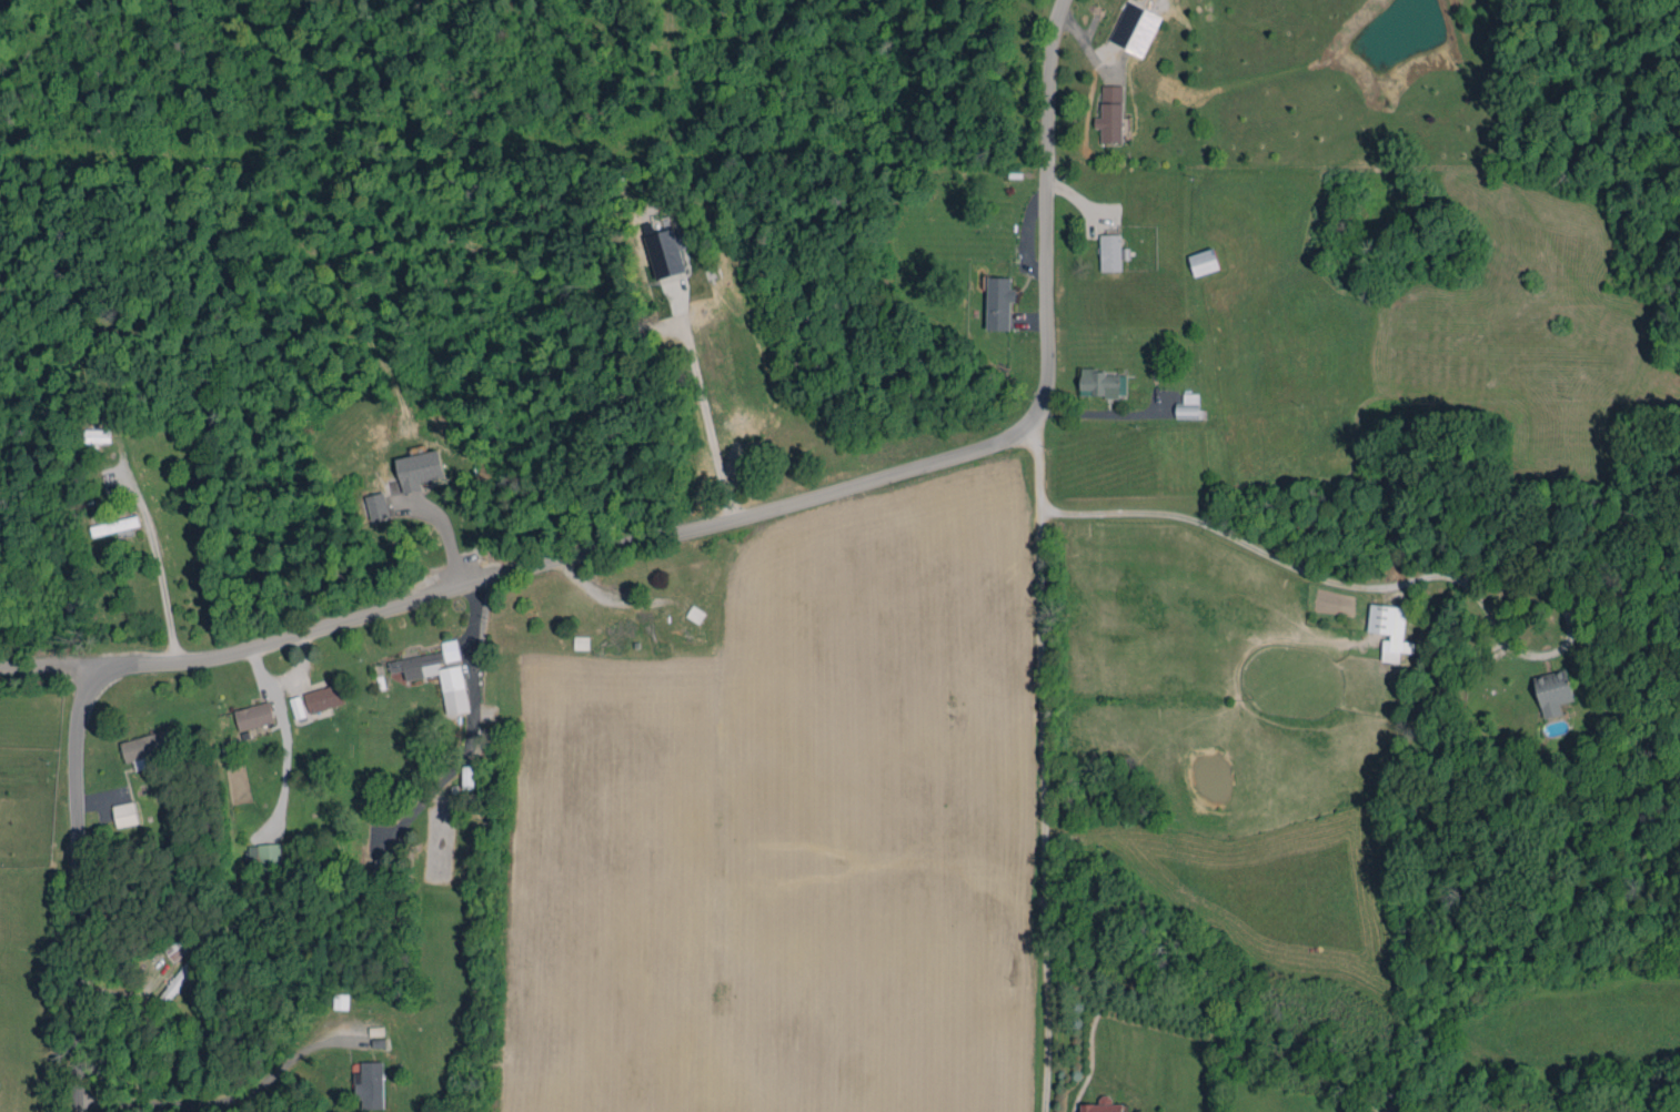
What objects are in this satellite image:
building: (1135, 28)
building: (1110, 114)
building: (1111, 252)
building: (665, 253)
building: (1204, 262)
building: (998, 302)
building: (1100, 383)
building: (1190, 407)
road: (706, 414)
road: (1038, 464)
building: (420, 469)
building: (376, 506)
road: (767, 509)
building: (115, 526)
road: (450, 534)
road: (157, 543)
road: (1289, 564)
building: (695, 614)
building: (1389, 630)
building: (581, 641)
road: (470, 658)
road: (41, 666)
building: (439, 674)
building: (1552, 691)
building: (323, 697)
building: (254, 716)
building: (144, 747)
building: (467, 777)
road: (434, 790)
road: (1044, 810)
building: (124, 813)
building: (264, 857)
road: (72, 890)
building: (341, 1001)
building: (370, 1084)
building: (1103, 1105)
road: (212, 1109)

